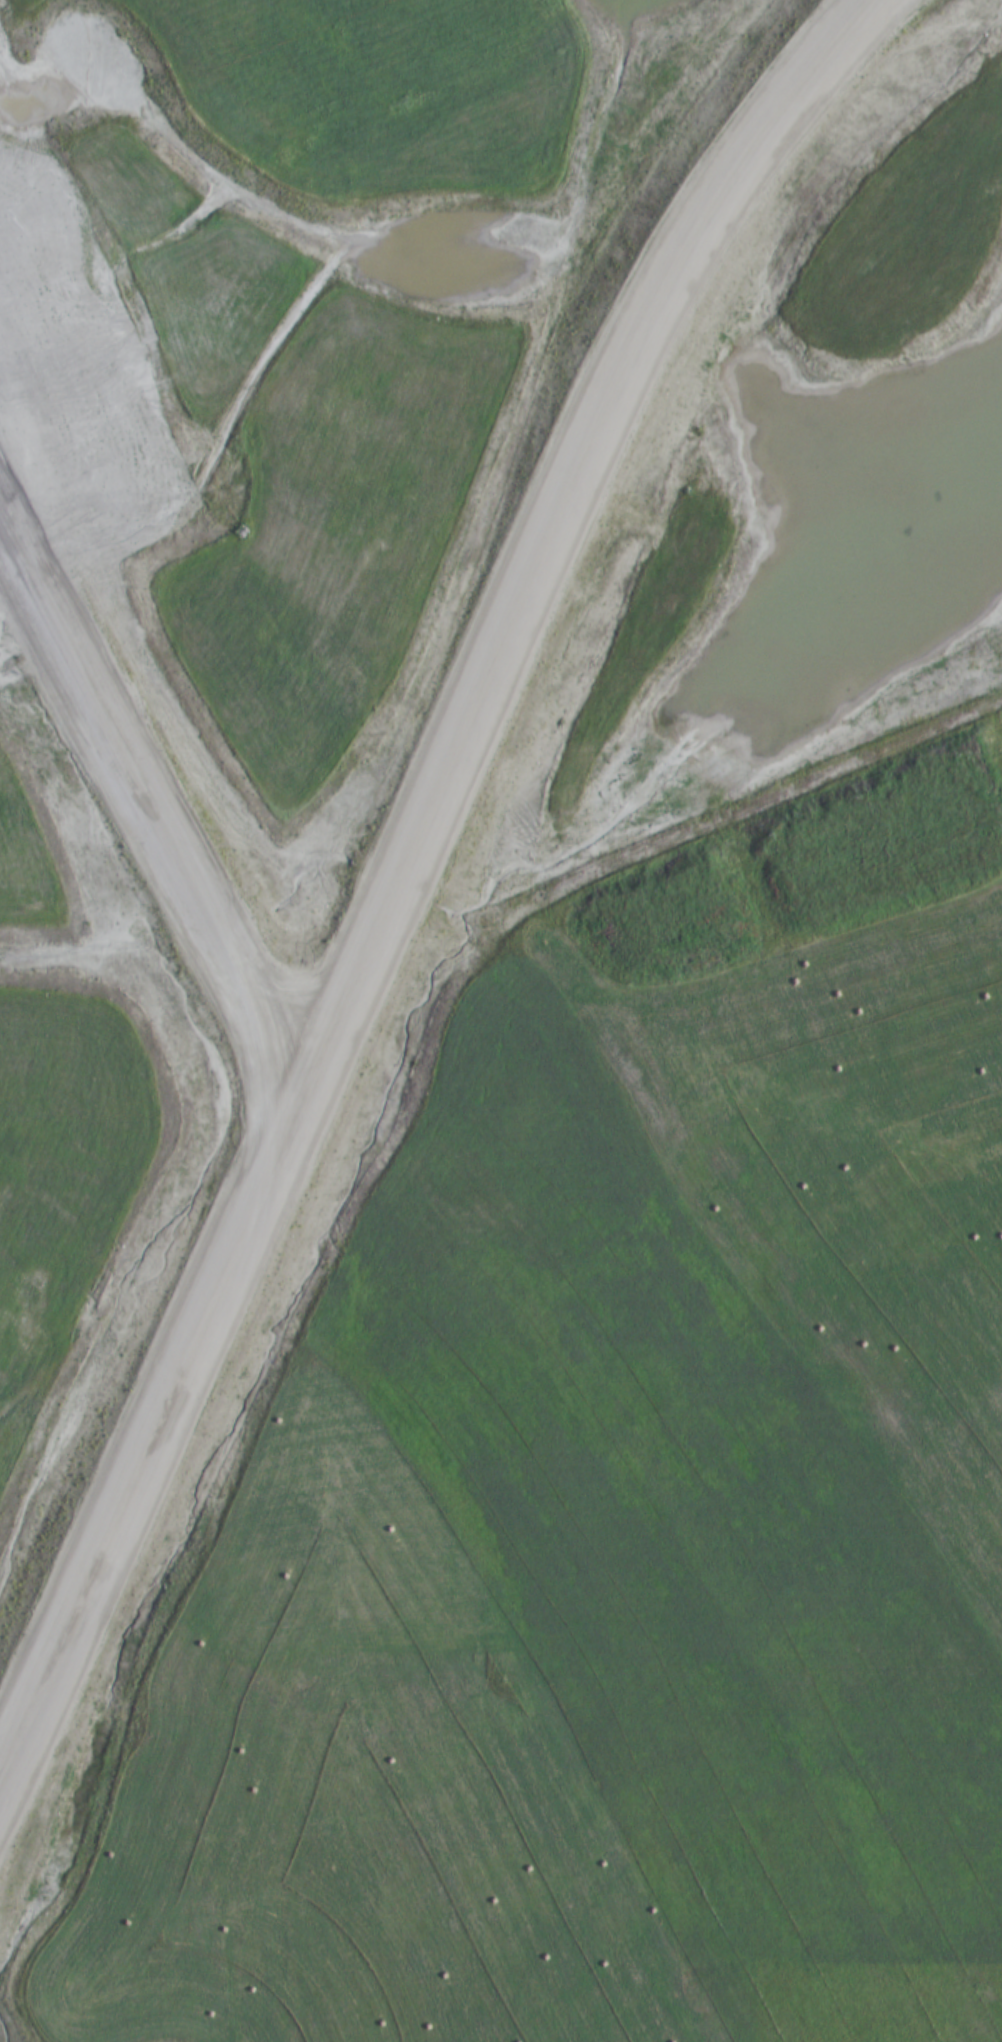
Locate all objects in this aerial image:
building: (62, 1709)
building: (141, 1774)
building: (81, 1822)

